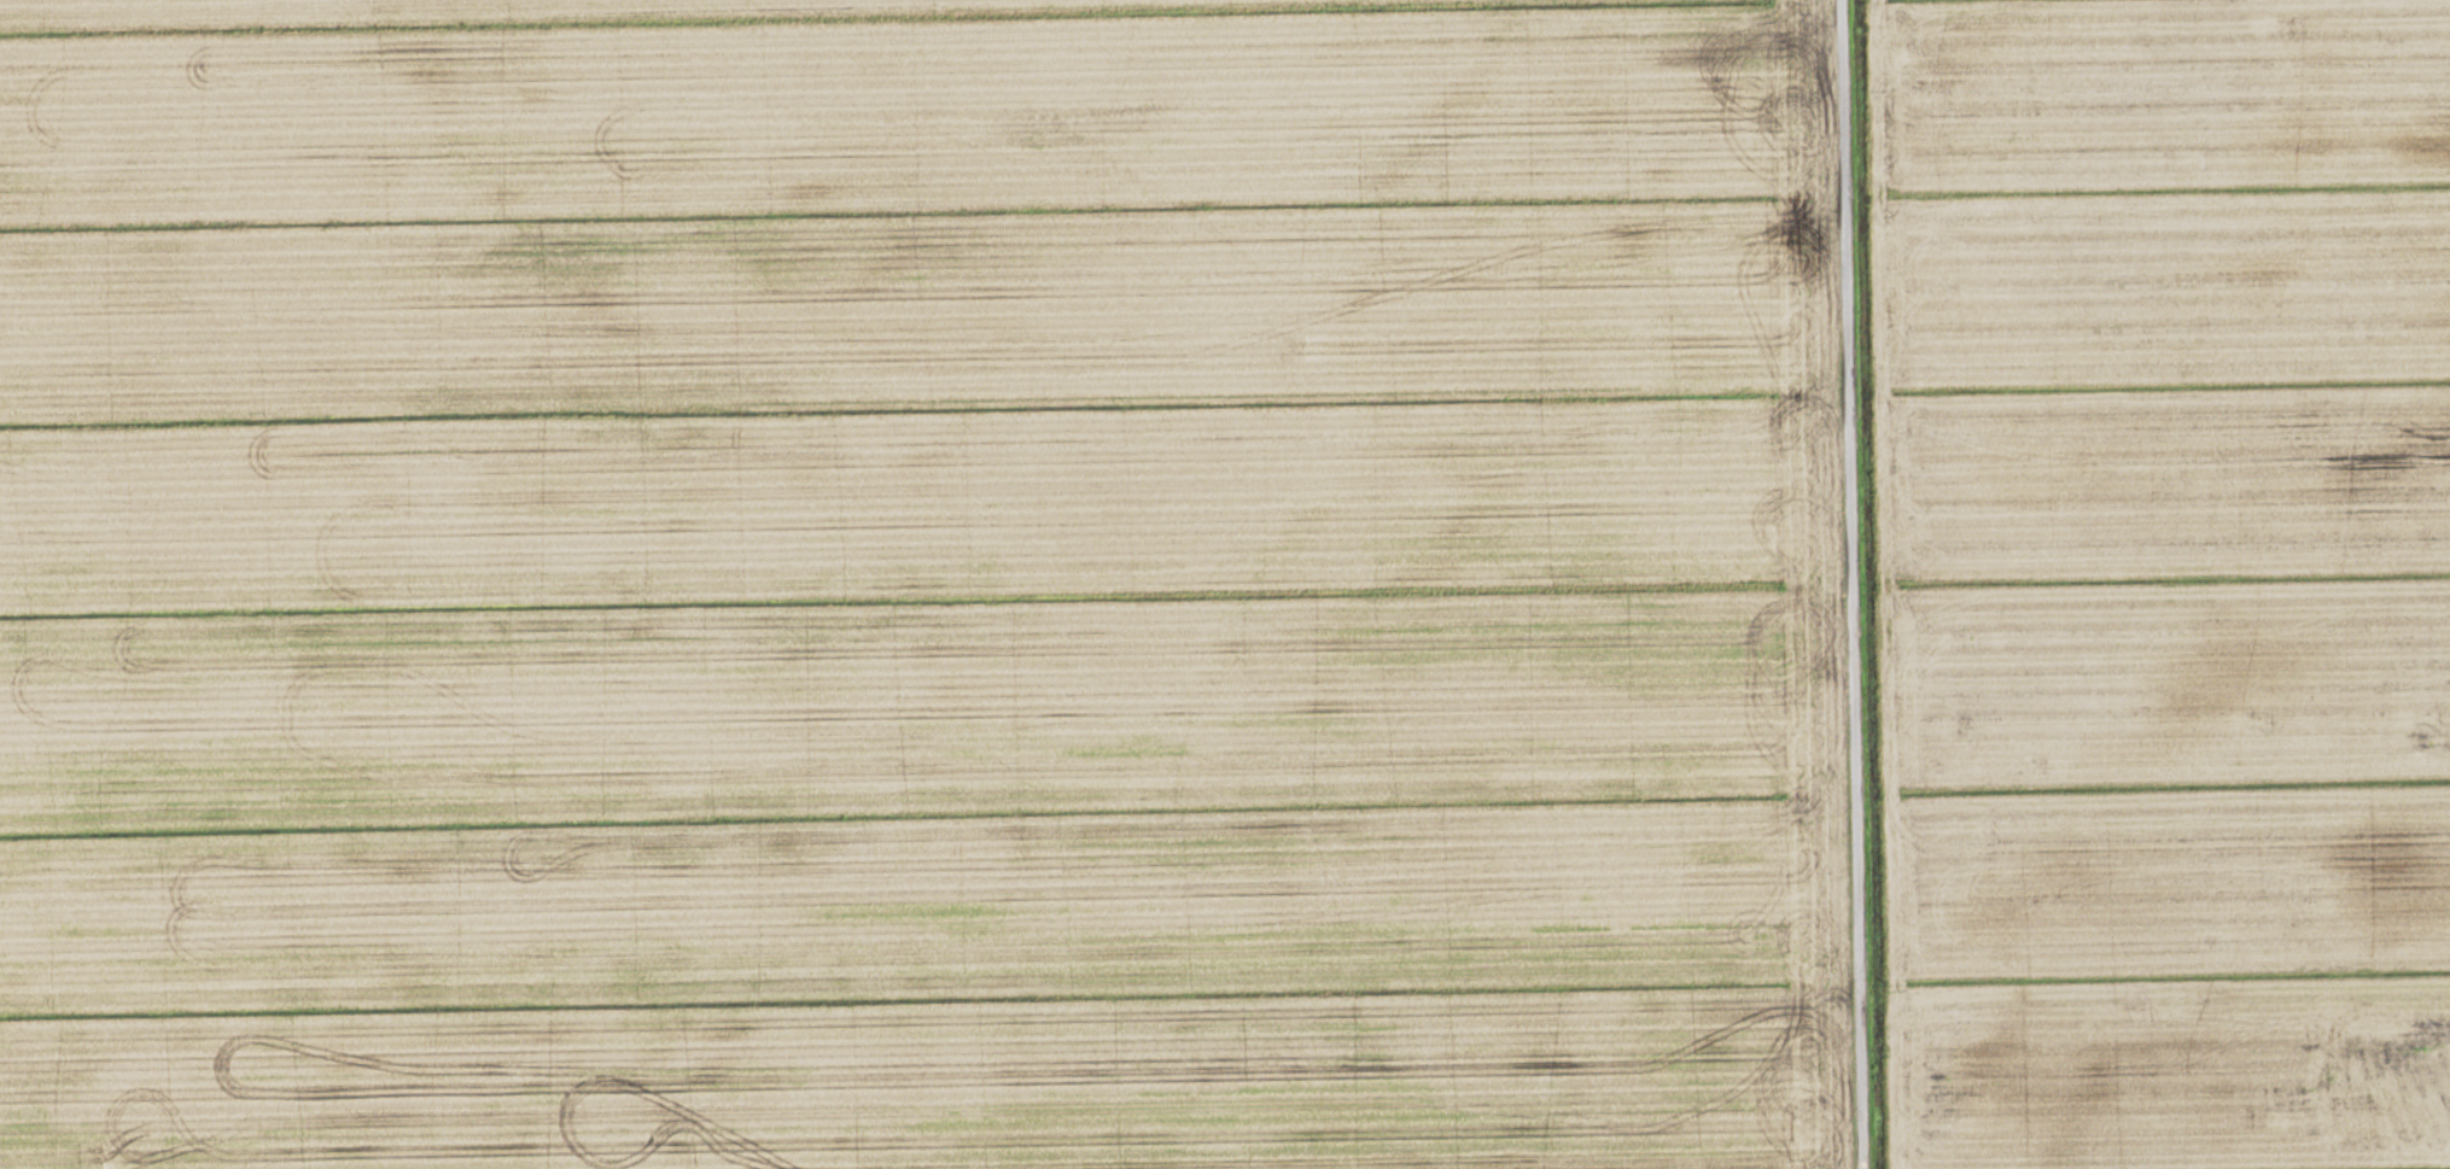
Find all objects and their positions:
crop: (922, 585)

